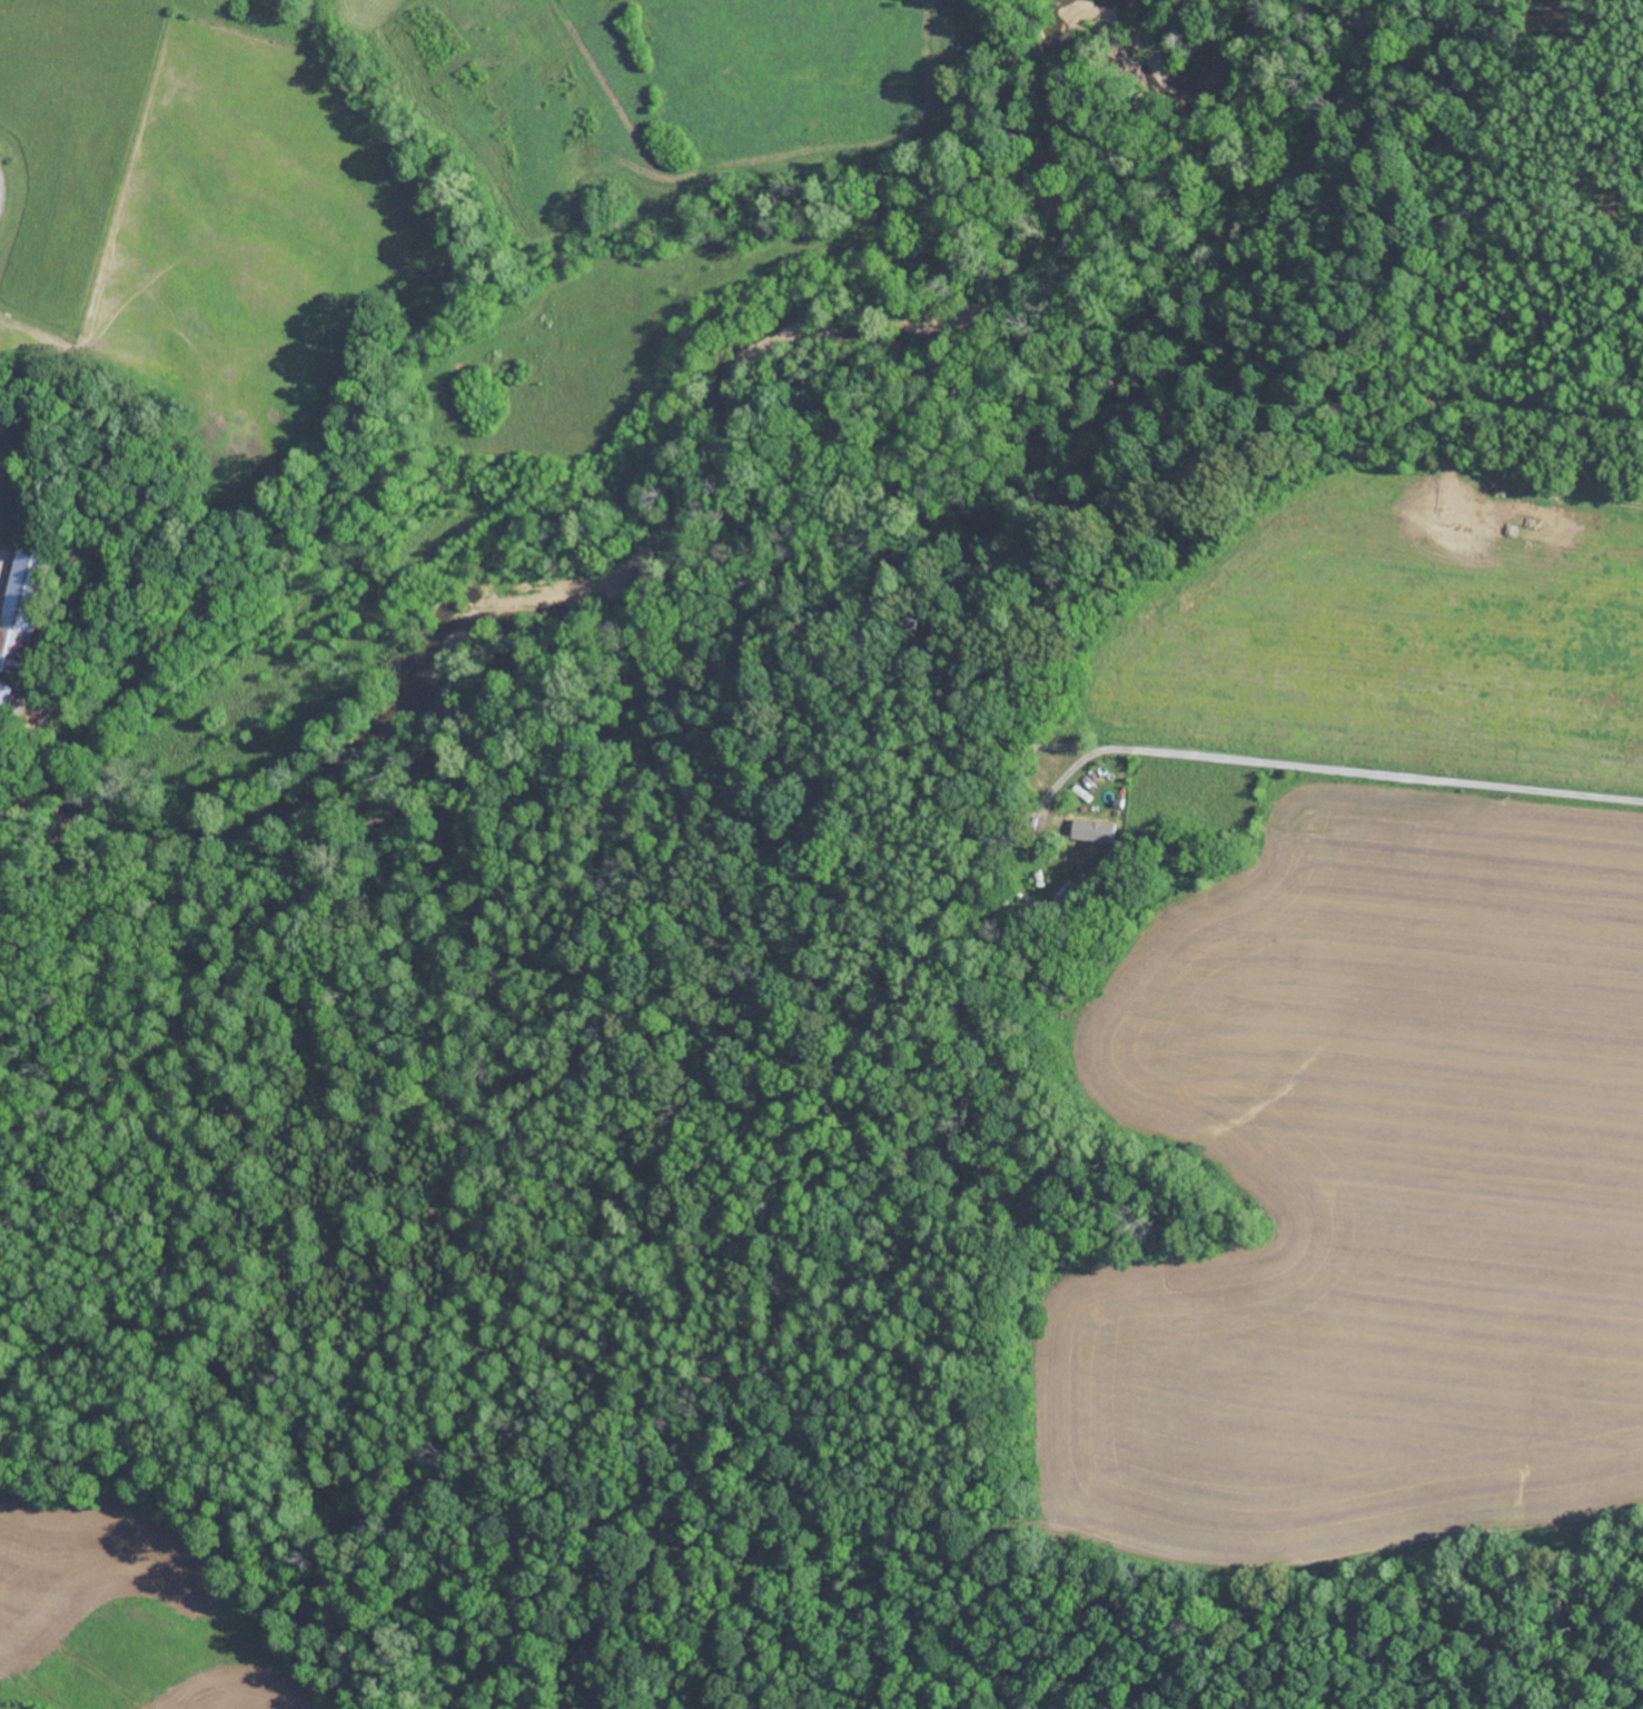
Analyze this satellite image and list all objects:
building: (23, 610)
building: (7, 695)
road: (1335, 767)

